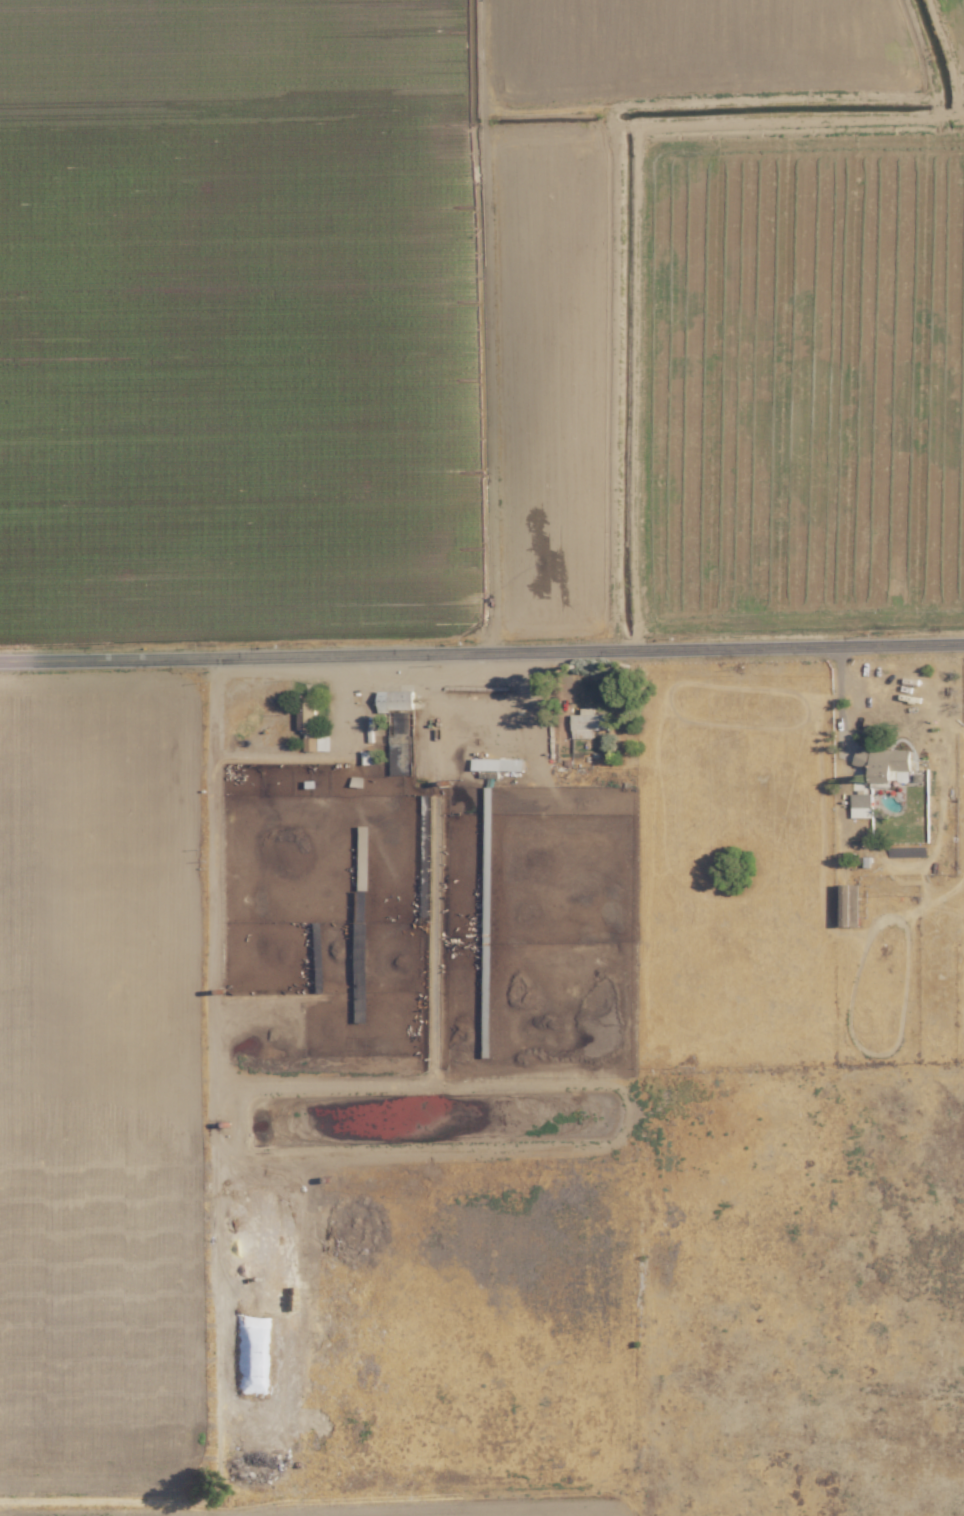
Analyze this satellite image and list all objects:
road: (481, 642)
road: (438, 677)
road: (839, 686)
building: (397, 700)
building: (309, 718)
building: (589, 722)
building: (313, 744)
road: (278, 758)
building: (885, 763)
building: (862, 804)
building: (849, 904)

